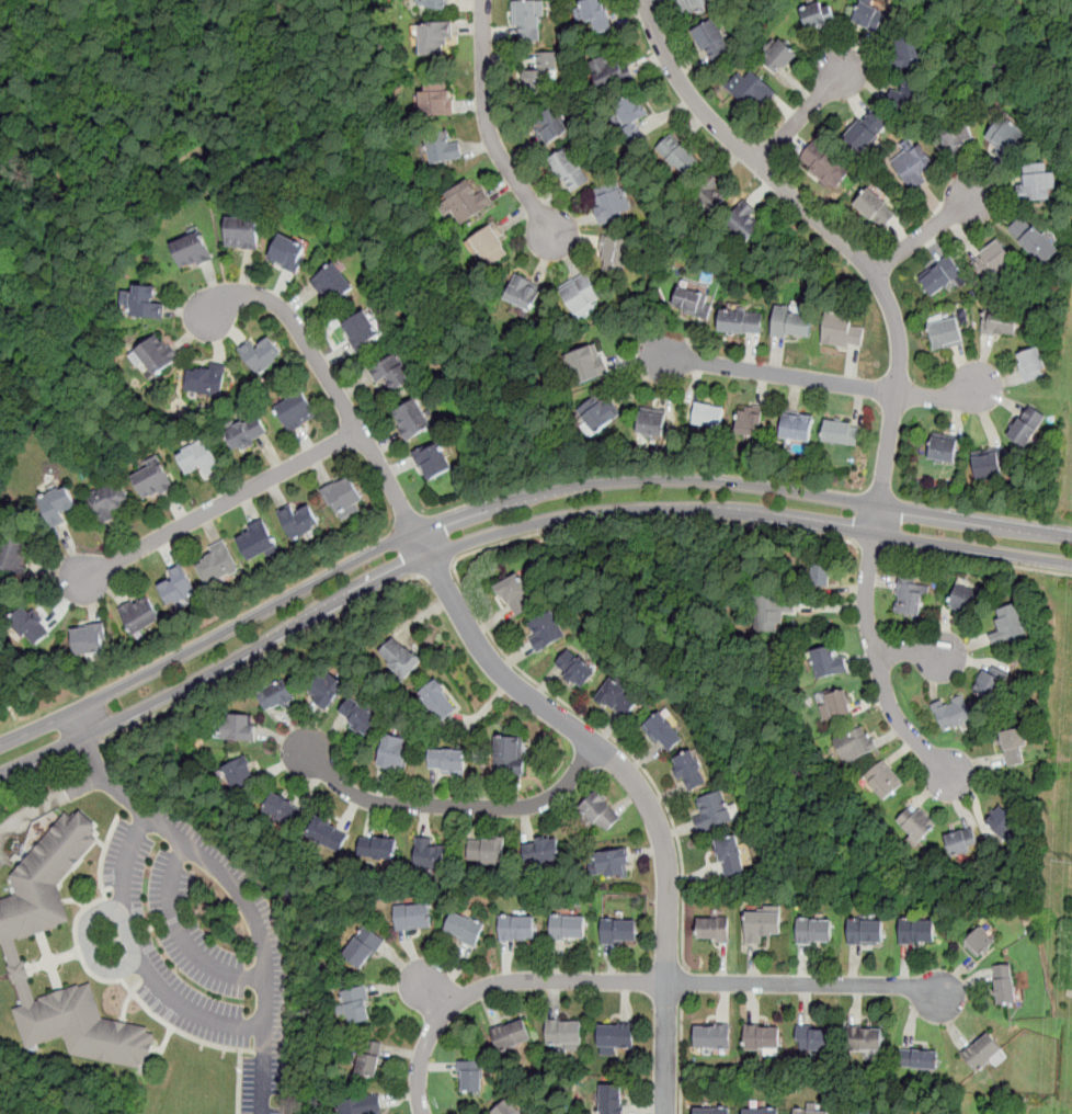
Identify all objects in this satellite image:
building: (437, 4)
building: (693, 4)
building: (595, 15)
building: (818, 15)
building: (869, 16)
building: (528, 19)
road: (1041, 29)
building: (433, 39)
building: (712, 41)
building: (913, 53)
building: (779, 56)
building: (544, 70)
building: (613, 76)
building: (754, 91)
building: (910, 100)
building: (434, 103)
building: (629, 116)
road: (801, 117)
building: (549, 127)
building: (865, 133)
building: (955, 134)
road: (491, 135)
building: (1005, 136)
park: (160, 143)
building: (445, 148)
building: (677, 155)
building: (822, 166)
building: (912, 168)
road: (175, 170)
building: (570, 171)
building: (1036, 185)
building: (466, 202)
building: (705, 202)
building: (611, 205)
building: (875, 211)
road: (215, 219)
building: (741, 227)
building: (242, 231)
road: (828, 231)
road: (923, 236)
building: (1033, 239)
building: (490, 245)
building: (193, 250)
building: (288, 252)
building: (615, 254)
building: (993, 259)
building: (939, 274)
building: (332, 283)
building: (521, 292)
building: (581, 294)
building: (691, 302)
building: (147, 303)
building: (741, 321)
building: (1000, 322)
building: (792, 323)
building: (364, 328)
building: (842, 331)
building: (945, 333)
building: (158, 353)
building: (262, 355)
building: (586, 363)
building: (1031, 363)
building: (391, 371)
road: (327, 377)
road: (818, 378)
building: (205, 382)
building: (296, 411)
building: (598, 414)
building: (705, 416)
building: (412, 419)
building: (750, 421)
building: (650, 424)
building: (1027, 425)
building: (796, 427)
building: (840, 433)
building: (246, 434)
building: (943, 450)
building: (197, 459)
building: (433, 461)
building: (989, 464)
building: (152, 480)
building: (342, 496)
building: (109, 499)
road: (511, 503)
building: (58, 507)
road: (216, 507)
building: (299, 520)
road: (652, 521)
road: (511, 530)
building: (256, 539)
road: (869, 545)
building: (15, 554)
road: (980, 559)
building: (217, 562)
road: (434, 568)
building: (818, 576)
building: (175, 587)
building: (515, 594)
building: (910, 599)
building: (961, 601)
building: (768, 612)
building: (141, 616)
building: (30, 625)
building: (1008, 625)
building: (546, 630)
building: (91, 639)
road: (876, 651)
road: (909, 651)
road: (259, 658)
building: (400, 658)
building: (825, 662)
building: (578, 670)
building: (991, 682)
building: (327, 690)
building: (277, 696)
building: (438, 700)
building: (618, 700)
building: (835, 705)
building: (953, 714)
building: (360, 716)
building: (238, 727)
building: (664, 732)
road: (618, 742)
building: (855, 746)
building: (1014, 747)
road: (88, 748)
building: (394, 751)
building: (508, 752)
building: (447, 761)
road: (37, 769)
building: (689, 770)
building: (241, 774)
road: (635, 782)
building: (882, 782)
road: (49, 800)
road: (451, 805)
building: (283, 810)
building: (712, 810)
building: (601, 812)
building: (1002, 821)
building: (916, 825)
building: (328, 833)
building: (961, 840)
building: (378, 848)
building: (540, 850)
building: (429, 851)
building: (487, 851)
building: (730, 855)
power tower: (1068, 862)
building: (612, 863)
road: (233, 885)
building: (412, 916)
building: (762, 921)
building: (568, 925)
building: (516, 927)
building: (464, 928)
building: (714, 929)
building: (814, 929)
building: (916, 930)
building: (618, 931)
building: (866, 931)
building: (10, 937)
road: (185, 940)
building: (979, 942)
building: (364, 947)
road: (144, 959)
road: (685, 982)
building: (1005, 984)
road: (498, 985)
road: (807, 985)
building: (355, 1005)
building: (563, 1033)
building: (511, 1034)
building: (712, 1035)
building: (761, 1035)
building: (616, 1036)
building: (814, 1037)
building: (866, 1039)
road: (681, 1052)
building: (982, 1052)
building: (366, 1057)
building: (917, 1058)
building: (470, 1075)
building: (611, 1099)
building: (363, 1104)
building: (509, 1107)
building: (712, 1111)
building: (760, 1111)
building: (809, 1111)
building: (860, 1113)

